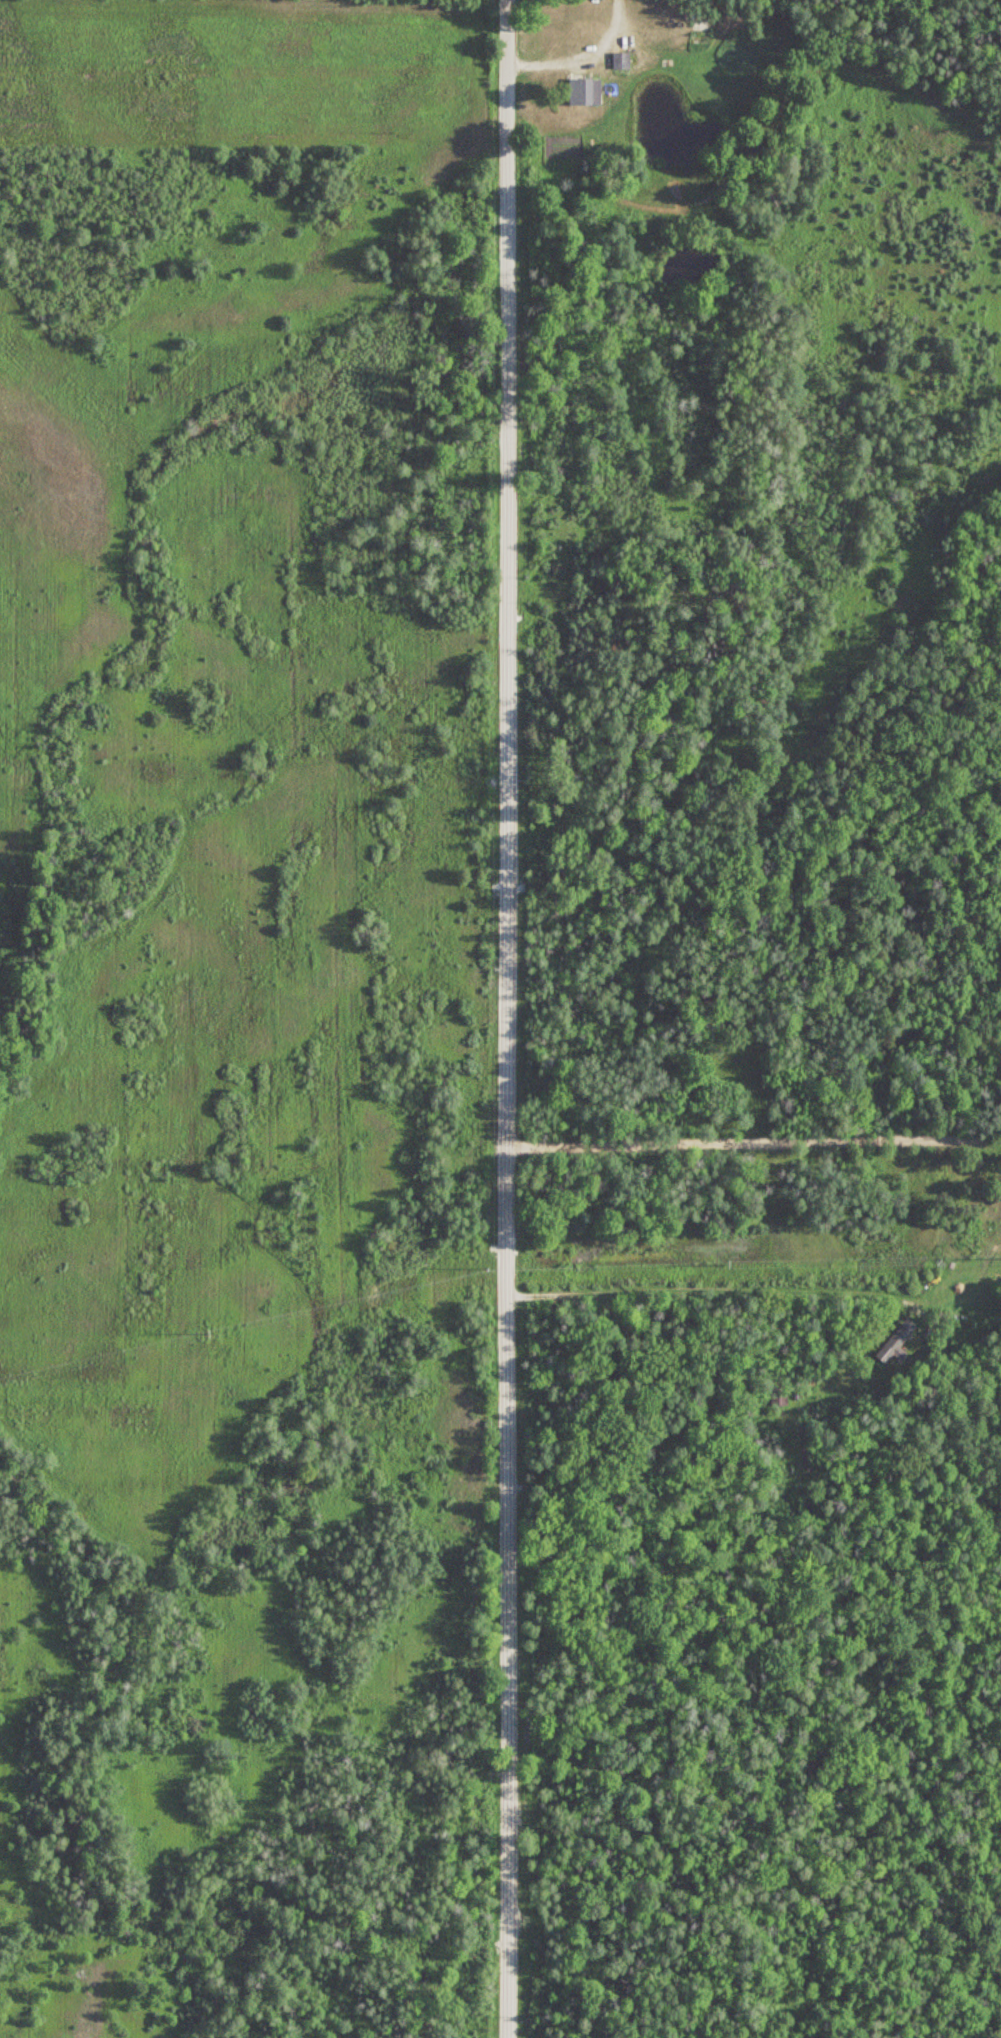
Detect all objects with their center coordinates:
road: (577, 55)
building: (622, 60)
building: (584, 91)
road: (506, 1018)
road: (754, 1142)
road: (707, 1291)
building: (896, 1340)
building: (779, 1396)
road: (754, 1971)

